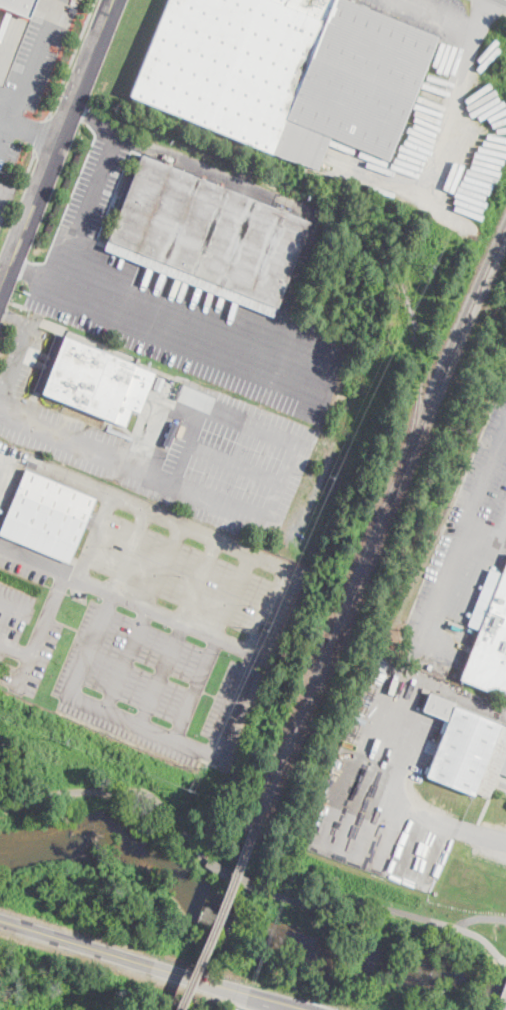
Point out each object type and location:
road: (492, 5)
building: (15, 6)
parking lot: (423, 11)
road: (442, 17)
road: (72, 58)
road: (30, 73)
building: (287, 74)
parking lot: (32, 77)
road: (6, 116)
road: (453, 127)
road: (33, 132)
road: (42, 134)
road: (56, 146)
road: (190, 163)
road: (28, 169)
parking lot: (6, 203)
road: (87, 208)
building: (164, 218)
building: (249, 252)
road: (35, 274)
road: (2, 281)
parking lot: (172, 303)
railway: (411, 313)
road: (14, 318)
road: (192, 336)
road: (14, 360)
building: (97, 381)
building: (158, 382)
road: (239, 416)
road: (165, 433)
road: (189, 442)
parking lot: (173, 444)
road: (234, 463)
parking lot: (9, 473)
road: (172, 482)
road: (147, 506)
building: (46, 516)
railway: (379, 524)
road: (501, 529)
road: (503, 533)
road: (480, 534)
road: (462, 536)
road: (500, 542)
parking lot: (462, 551)
road: (129, 597)
road: (108, 599)
road: (11, 605)
road: (144, 615)
parking lot: (149, 628)
road: (179, 629)
road: (42, 630)
road: (213, 643)
building: (490, 647)
road: (15, 650)
road: (255, 660)
road: (454, 693)
road: (398, 721)
road: (143, 723)
building: (466, 748)
park: (104, 799)
road: (412, 809)
road: (244, 880)
park: (97, 885)
railway: (215, 915)
road: (480, 917)
park: (386, 924)
road: (147, 965)
park: (378, 981)

